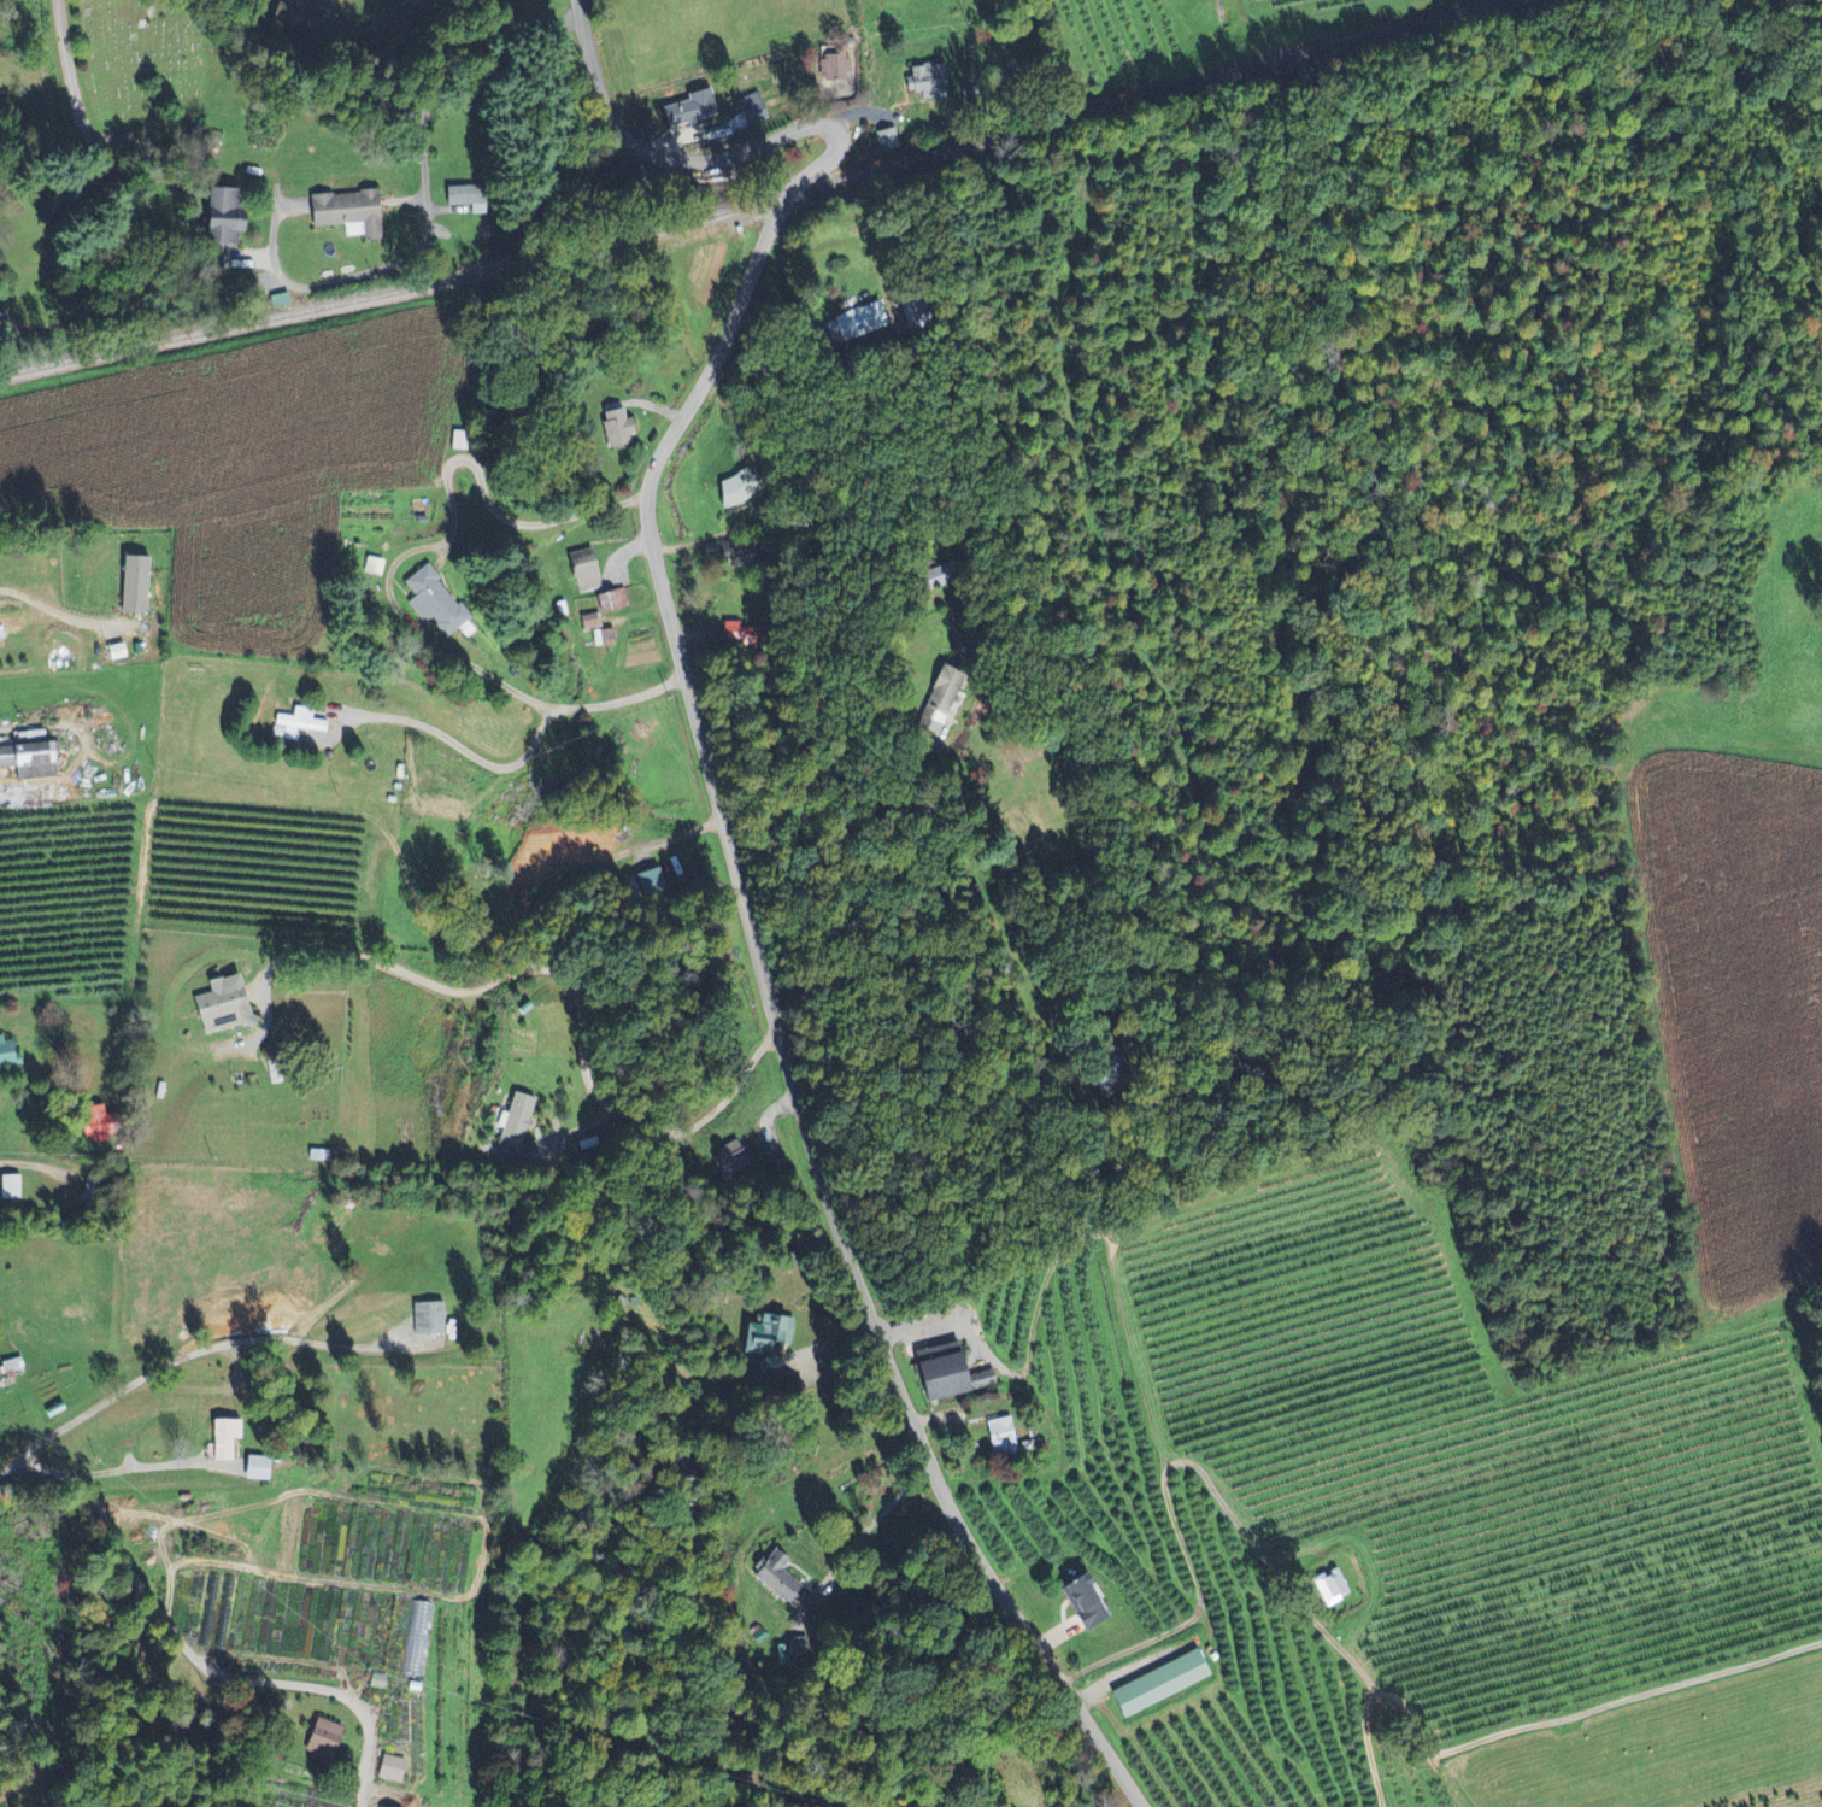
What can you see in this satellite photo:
building: (299, 20)
park: (153, 61)
road: (70, 63)
building: (835, 69)
building: (929, 82)
building: (690, 111)
building: (754, 111)
building: (887, 140)
road: (401, 175)
building: (459, 196)
railway: (763, 200)
building: (347, 215)
building: (222, 216)
building: (915, 310)
building: (859, 324)
building: (617, 427)
building: (739, 489)
building: (739, 553)
building: (584, 571)
road: (376, 585)
building: (134, 586)
building: (434, 604)
road: (60, 610)
building: (744, 634)
building: (300, 723)
road: (694, 724)
road: (439, 757)
building: (29, 762)
road: (888, 774)
building: (27, 797)
road: (582, 1001)
building: (222, 1008)
building: (8, 1056)
road: (42, 1116)
building: (516, 1123)
road: (992, 1145)
building: (321, 1156)
building: (733, 1160)
road: (27, 1163)
building: (11, 1189)
building: (429, 1319)
building: (770, 1334)
road: (201, 1349)
building: (13, 1366)
building: (950, 1375)
building: (1005, 1437)
building: (225, 1439)
road: (1176, 1465)
road: (145, 1466)
building: (257, 1468)
road: (910, 1520)
building: (781, 1580)
building: (1333, 1588)
building: (1085, 1601)
road: (189, 1648)
building: (416, 1661)
building: (378, 1682)
building: (1160, 1684)
road: (1523, 1730)
building: (324, 1741)
road: (1103, 1743)
building: (392, 1768)

